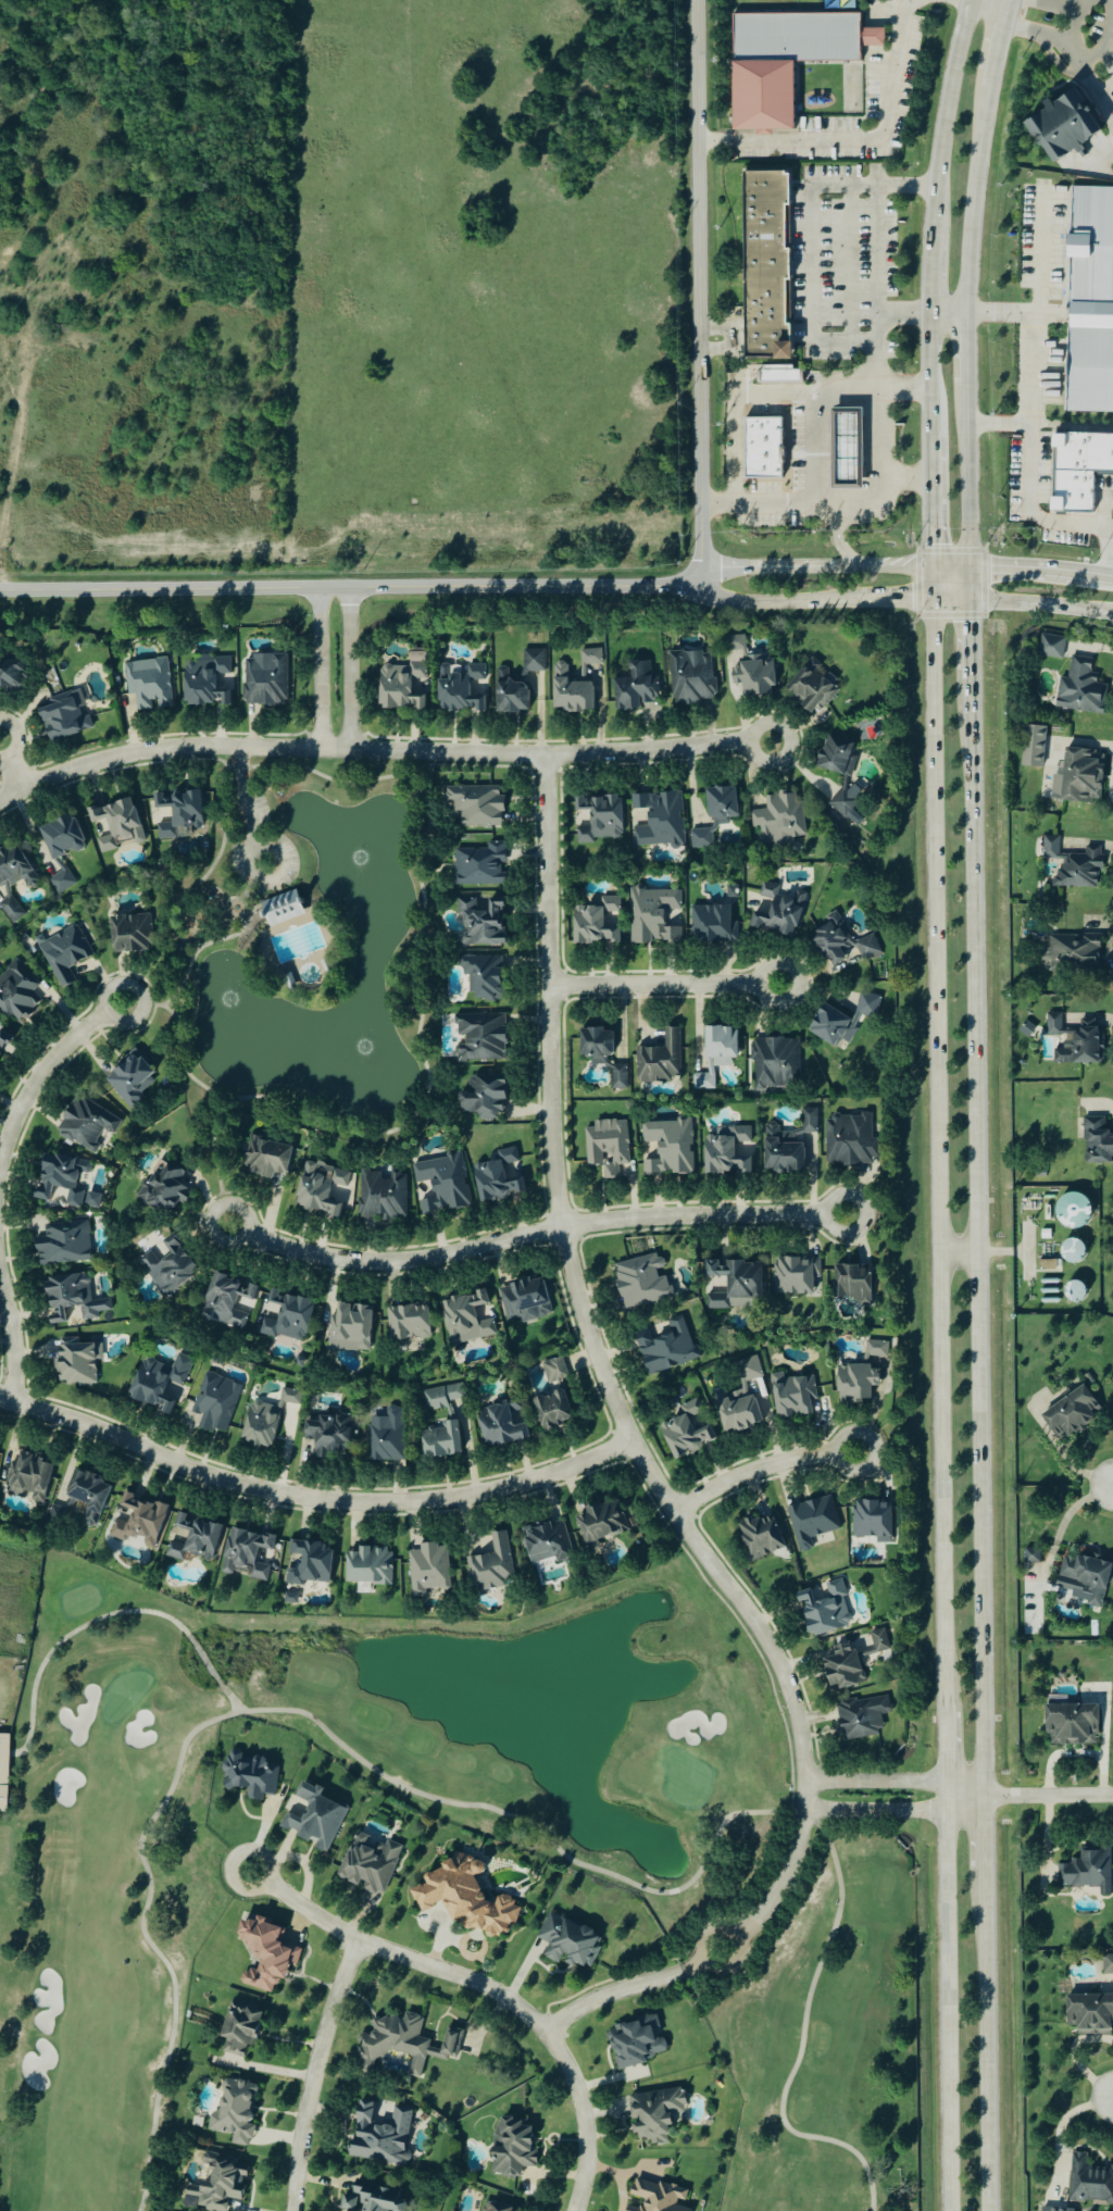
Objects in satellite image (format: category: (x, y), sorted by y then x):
road: (1040, 3)
road: (993, 5)
road: (1013, 5)
road: (1074, 25)
road: (1037, 32)
road: (1106, 38)
road: (999, 49)
road: (1073, 55)
building: (784, 62)
road: (1095, 89)
road: (947, 115)
road: (1112, 117)
building: (1062, 127)
road: (859, 140)
road: (983, 200)
road: (811, 229)
road: (877, 249)
road: (1039, 252)
building: (763, 265)
road: (933, 272)
road: (700, 292)
building: (1090, 302)
road: (953, 311)
road: (904, 312)
road: (974, 349)
road: (934, 372)
building: (780, 374)
road: (781, 390)
road: (1003, 422)
road: (1073, 422)
road: (1031, 423)
road: (815, 447)
building: (761, 449)
building: (845, 451)
gas station: (845, 451)
road: (937, 455)
building: (1078, 469)
road: (908, 477)
road: (974, 477)
road: (877, 494)
road: (1106, 512)
road: (937, 523)
road: (839, 539)
road: (1109, 552)
road: (816, 569)
traffic signals: (937, 569)
road: (955, 569)
traffic signals: (974, 569)
road: (1043, 570)
road: (974, 585)
road: (937, 586)
road: (351, 588)
road: (955, 602)
traffic signals: (975, 602)
road: (816, 603)
traffic signals: (937, 603)
road: (1043, 607)
road: (975, 640)
building: (1049, 647)
road: (1095, 648)
building: (589, 657)
road: (324, 670)
road: (352, 671)
building: (12, 674)
building: (752, 675)
building: (690, 677)
building: (263, 680)
building: (205, 683)
building: (148, 684)
building: (515, 684)
building: (401, 685)
building: (635, 687)
building: (460, 688)
building: (811, 689)
building: (1079, 689)
building: (568, 692)
building: (62, 721)
building: (1034, 747)
road: (382, 752)
building: (835, 757)
road: (12, 766)
building: (1080, 777)
building: (842, 803)
building: (474, 805)
building: (720, 805)
building: (176, 813)
building: (778, 819)
building: (597, 820)
building: (655, 820)
building: (114, 824)
building: (60, 837)
building: (700, 839)
road: (1087, 842)
road: (249, 848)
fountain: (357, 857)
building: (478, 865)
building: (1073, 865)
building: (14, 869)
building: (61, 882)
park: (258, 890)
building: (280, 909)
building: (10, 910)
building: (777, 912)
building: (651, 916)
building: (480, 922)
building: (593, 923)
building: (711, 924)
building: (129, 934)
building: (840, 942)
building: (63, 953)
building: (1073, 954)
building: (483, 978)
road: (667, 985)
building: (16, 992)
fountain: (226, 994)
building: (840, 1021)
building: (479, 1037)
building: (3, 1039)
fountain: (341, 1040)
building: (1074, 1041)
building: (718, 1042)
building: (595, 1045)
building: (658, 1059)
building: (773, 1063)
road: (43, 1073)
building: (616, 1077)
building: (128, 1079)
building: (702, 1082)
building: (482, 1097)
building: (85, 1124)
building: (847, 1139)
building: (1096, 1141)
building: (787, 1145)
building: (604, 1147)
building: (666, 1147)
building: (725, 1152)
road: (941, 1154)
building: (264, 1158)
building: (496, 1177)
building: (60, 1178)
building: (440, 1182)
building: (162, 1187)
building: (318, 1189)
building: (380, 1195)
building: (1072, 1212)
road: (535, 1236)
road: (980, 1238)
building: (1112, 1241)
building: (1112, 1244)
building: (62, 1245)
road: (962, 1252)
building: (1072, 1252)
building: (168, 1265)
building: (795, 1276)
building: (640, 1281)
building: (733, 1283)
building: (850, 1284)
building: (67, 1296)
building: (523, 1299)
building: (227, 1300)
building: (285, 1315)
building: (466, 1317)
building: (405, 1322)
building: (348, 1326)
road: (14, 1335)
building: (663, 1346)
building: (876, 1349)
building: (74, 1363)
building: (747, 1370)
building: (553, 1371)
road: (608, 1381)
building: (157, 1382)
building: (853, 1384)
building: (791, 1395)
building: (290, 1396)
building: (442, 1396)
building: (214, 1403)
building: (551, 1410)
building: (736, 1412)
building: (1070, 1413)
building: (500, 1423)
building: (258, 1425)
building: (684, 1431)
building: (326, 1434)
building: (385, 1437)
building: (439, 1440)
road: (1059, 1452)
road: (763, 1470)
building: (28, 1474)
building: (86, 1494)
road: (313, 1500)
building: (53, 1517)
building: (137, 1520)
building: (871, 1521)
building: (600, 1522)
building: (810, 1522)
building: (758, 1537)
building: (190, 1538)
building: (546, 1542)
building: (246, 1553)
building: (1030, 1556)
building: (308, 1563)
building: (366, 1565)
building: (490, 1565)
building: (428, 1569)
building: (1085, 1576)
building: (290, 1594)
building: (823, 1609)
building: (877, 1641)
building: (840, 1666)
building: (861, 1716)
building: (1068, 1724)
road: (947, 1745)
road: (176, 1769)
building: (249, 1776)
road: (898, 1783)
building: (3, 1797)
road: (1050, 1798)
road: (898, 1814)
building: (312, 1817)
road: (520, 1822)
road: (988, 1835)
road: (236, 1860)
building: (367, 1863)
park: (99, 1869)
building: (1085, 1871)
building: (465, 1897)
building: (567, 1941)
building: (264, 1953)
road: (703, 1962)
building: (1106, 1963)
road: (620, 1990)
road: (497, 1994)
road: (951, 1996)
building: (1089, 2014)
road: (803, 2018)
building: (238, 2029)
road: (996, 2040)
building: (635, 2041)
building: (402, 2044)
road: (1074, 2059)
road: (316, 2072)
building: (233, 2111)
building: (653, 2114)
road: (1061, 2128)
building: (378, 2136)
building: (511, 2146)
road: (617, 2177)
building: (1088, 2182)
building: (216, 2183)
building: (658, 2196)
building: (372, 2199)
building: (497, 2208)
building: (1054, 2210)

